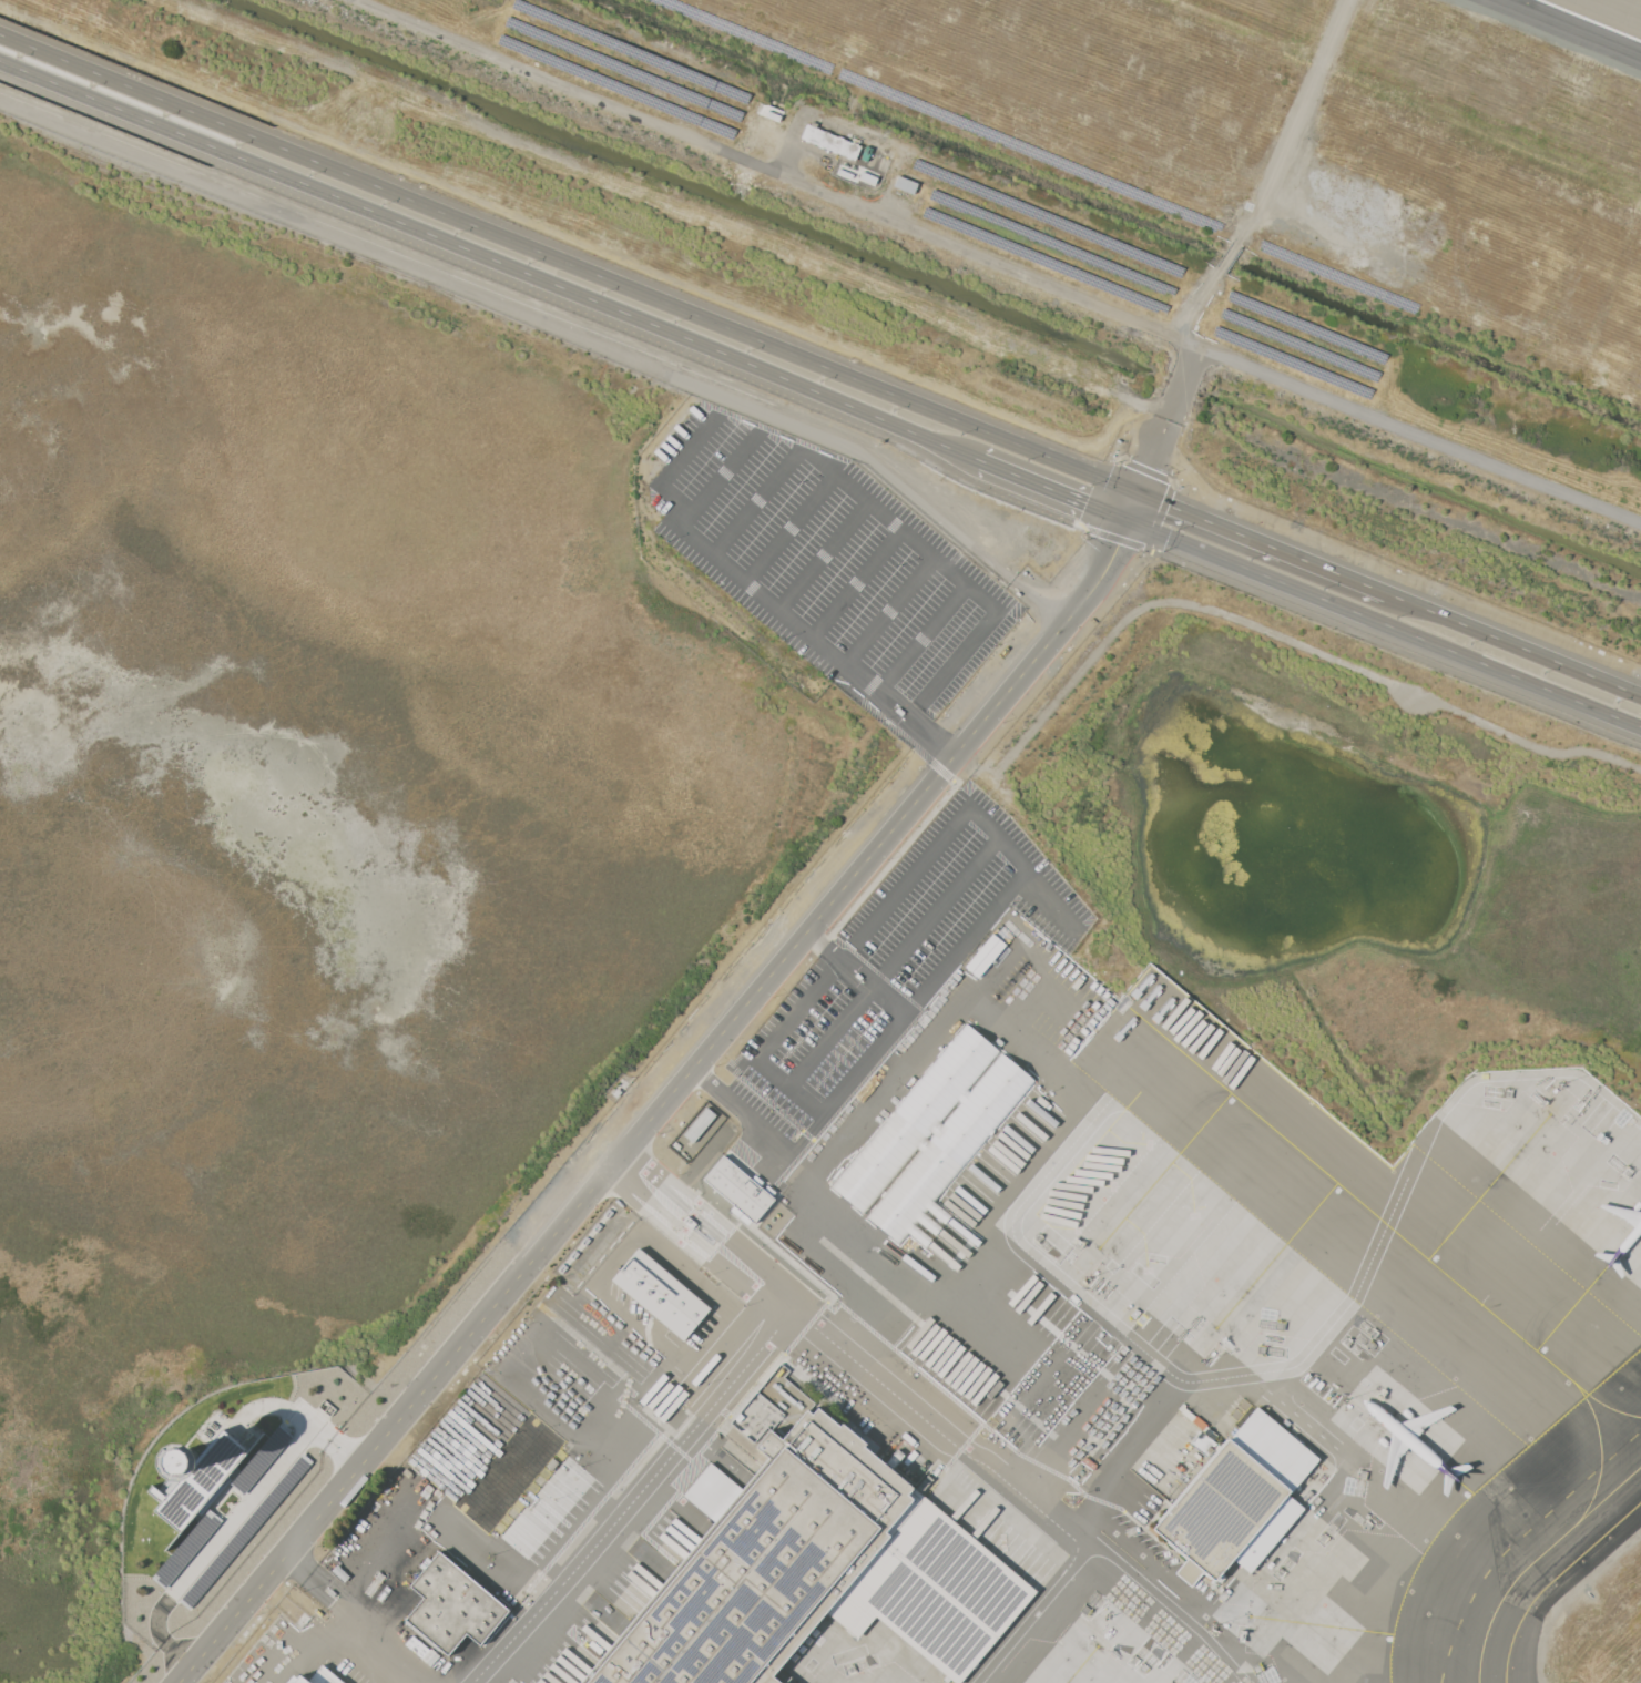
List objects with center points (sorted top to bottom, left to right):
building: (829, 141)
road: (488, 262)
road: (569, 263)
road: (998, 263)
road: (1185, 384)
road: (822, 409)
road: (1156, 457)
road: (717, 473)
road: (1051, 489)
traffic signals: (1139, 492)
road: (885, 516)
traffic signals: (1127, 520)
road: (789, 527)
road: (1262, 542)
road: (824, 555)
road: (745, 580)
road: (857, 583)
road: (888, 611)
road: (1383, 624)
road: (1056, 631)
road: (970, 639)
road: (1512, 645)
road: (900, 700)
road: (932, 739)
airport: (820, 841)
road: (878, 843)
road: (938, 843)
road: (944, 904)
road: (986, 910)
road: (832, 951)
building: (986, 955)
road: (879, 990)
road: (832, 1036)
road: (797, 1092)
road: (740, 1109)
building: (699, 1124)
building: (931, 1135)
road: (649, 1189)
building: (741, 1189)
airport taxiway: (1348, 1191)
building: (661, 1294)
road: (930, 1300)
road: (490, 1306)
road: (997, 1327)
road: (1299, 1360)
road: (884, 1385)
airport taxiway: (1604, 1405)
building: (1200, 1441)
airport taxiway: (1600, 1447)
road: (1121, 1455)
building: (262, 1458)
building: (198, 1479)
road: (632, 1498)
building: (1239, 1499)
road: (233, 1519)
building: (245, 1531)
building: (186, 1548)
airport taxiway: (1536, 1559)
building: (816, 1567)
road: (306, 1572)
road: (335, 1595)
airport apron: (990, 1606)
building: (453, 1608)
road: (1030, 1615)
road: (390, 1642)
building: (420, 1650)
building: (300, 1680)

